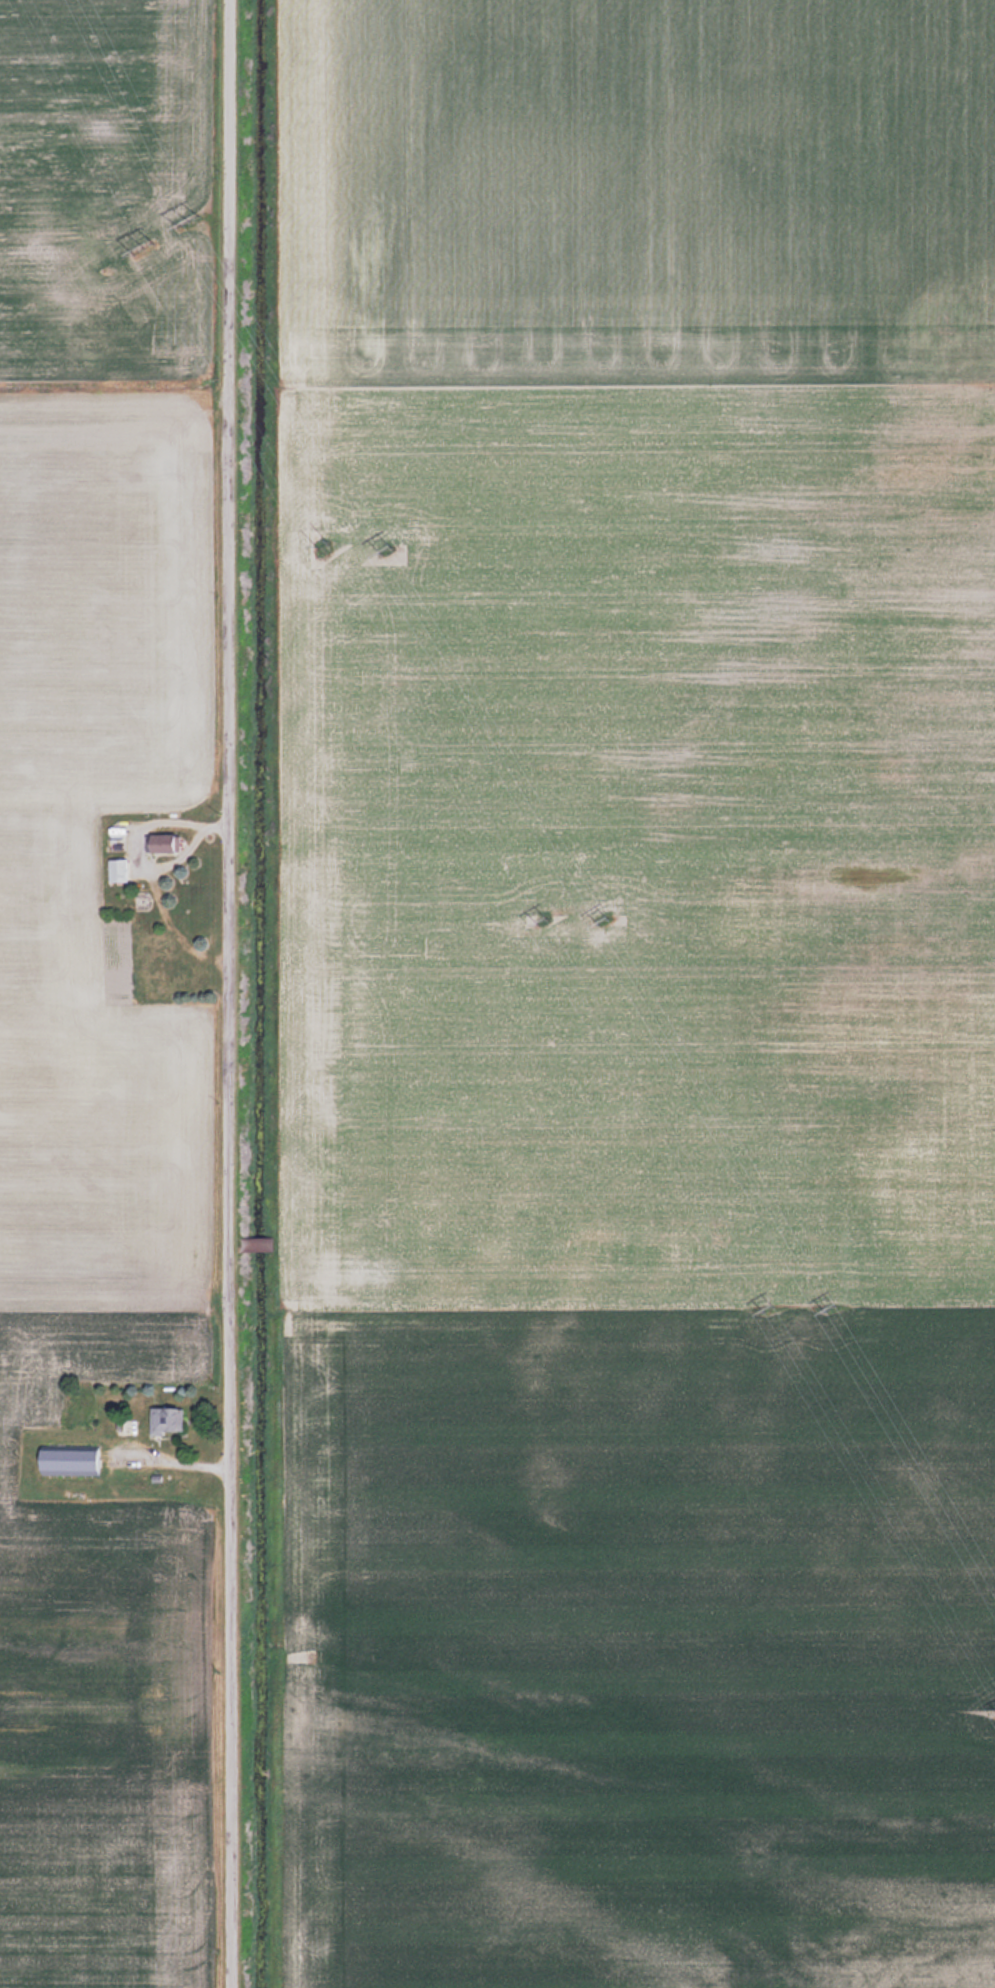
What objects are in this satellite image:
power tower: (188, 221)
power tower: (143, 247)
power tower: (327, 549)
power tower: (389, 550)
building: (161, 842)
building: (116, 870)
power tower: (604, 918)
power tower: (543, 920)
road: (238, 994)
power tower: (833, 1307)
power tower: (767, 1309)
building: (164, 1420)
building: (128, 1427)
building: (66, 1459)

